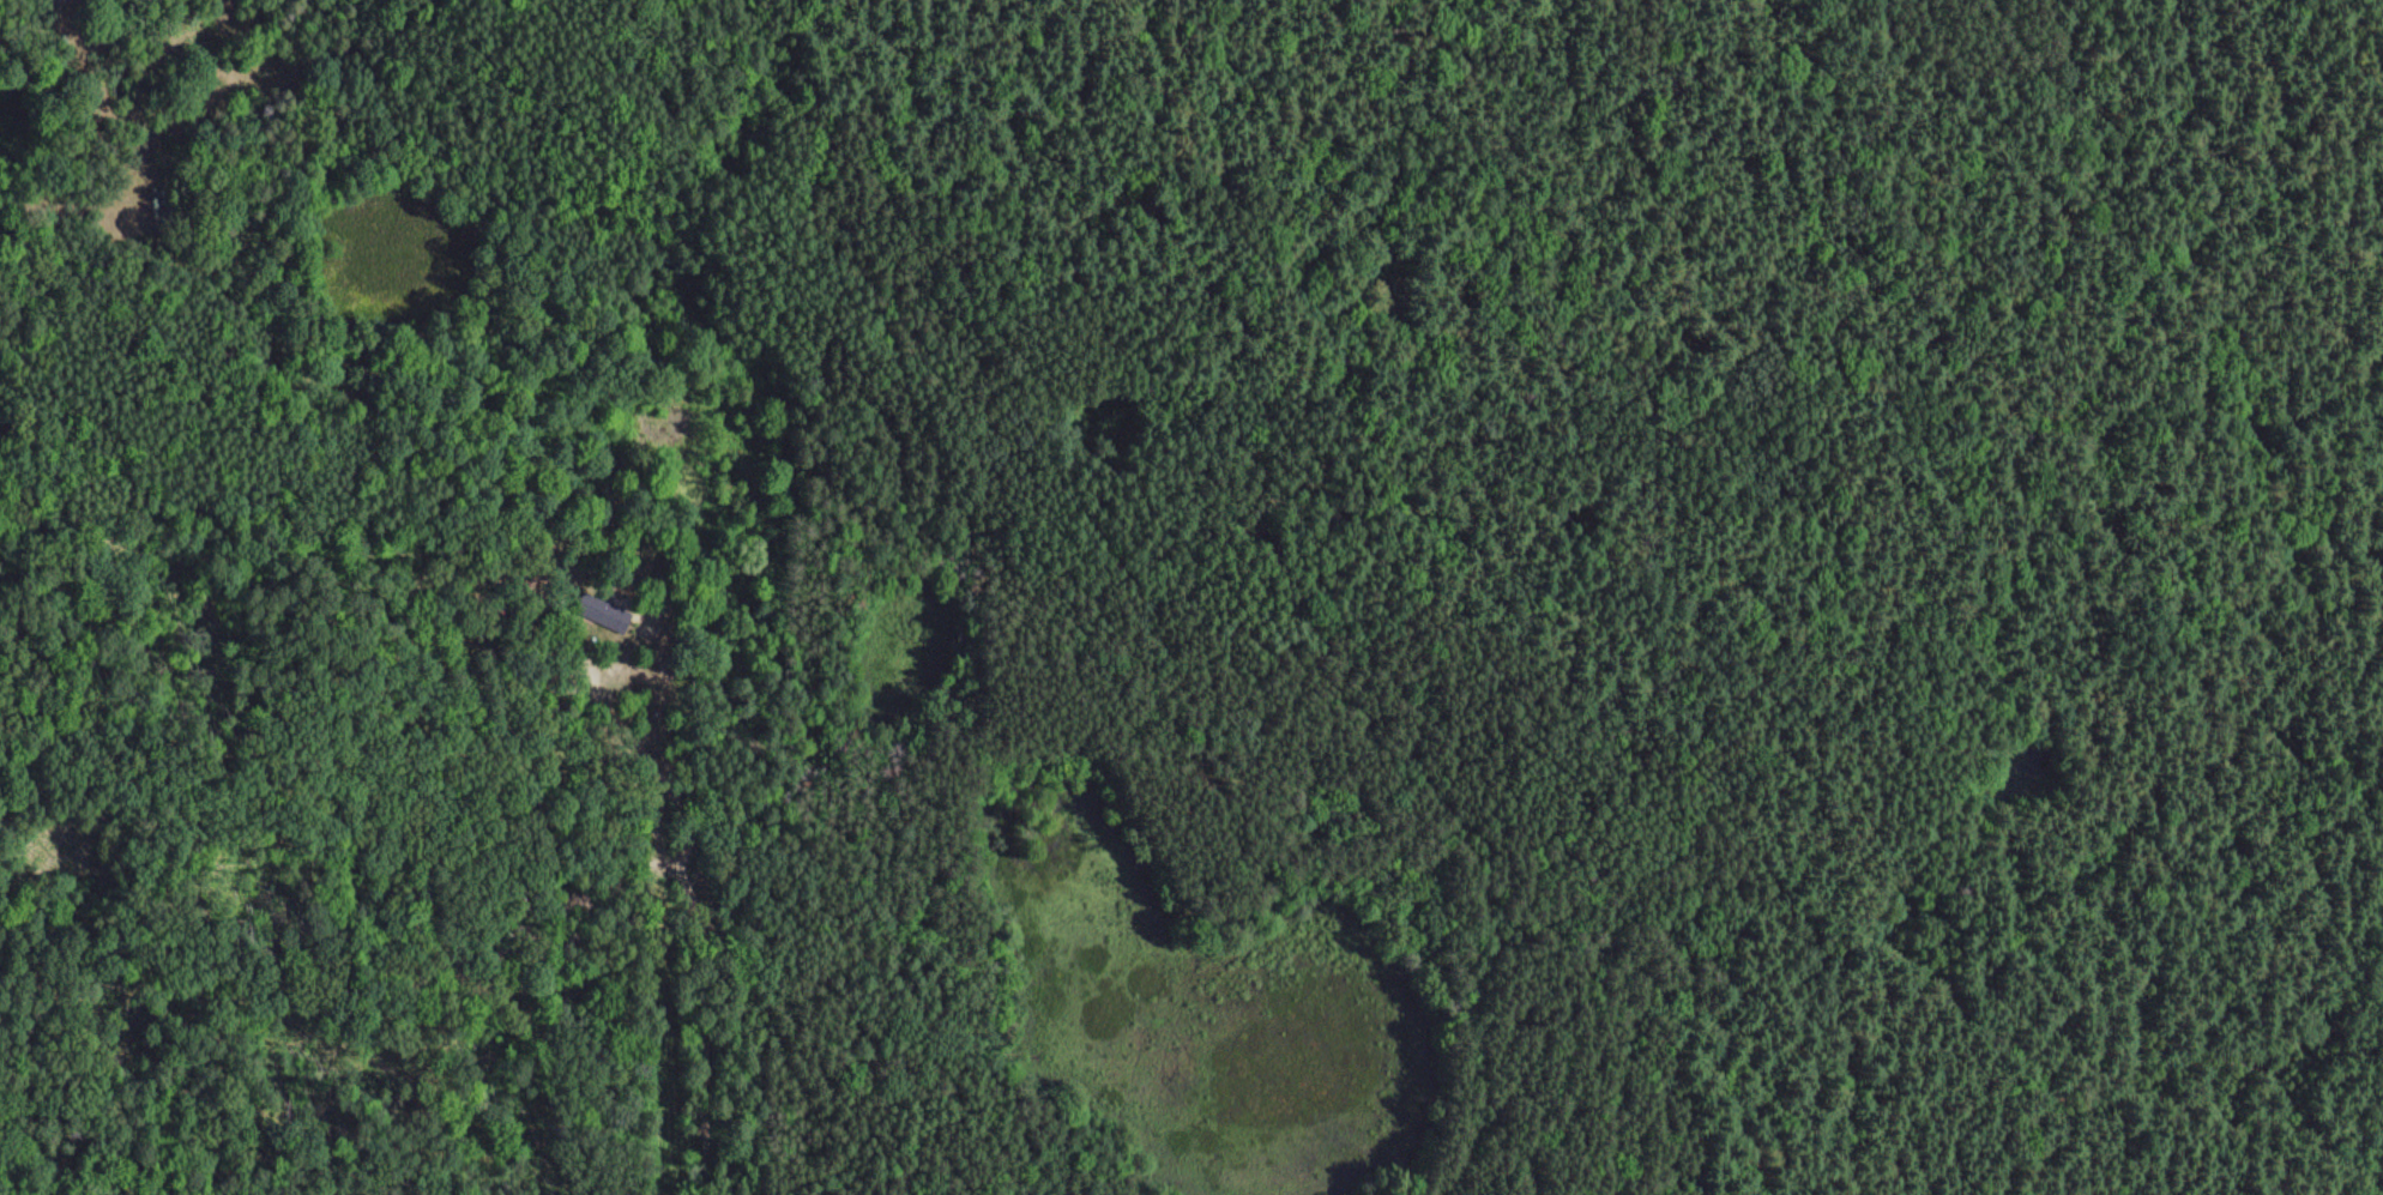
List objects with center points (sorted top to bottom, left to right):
building: (601, 612)
road: (688, 891)

